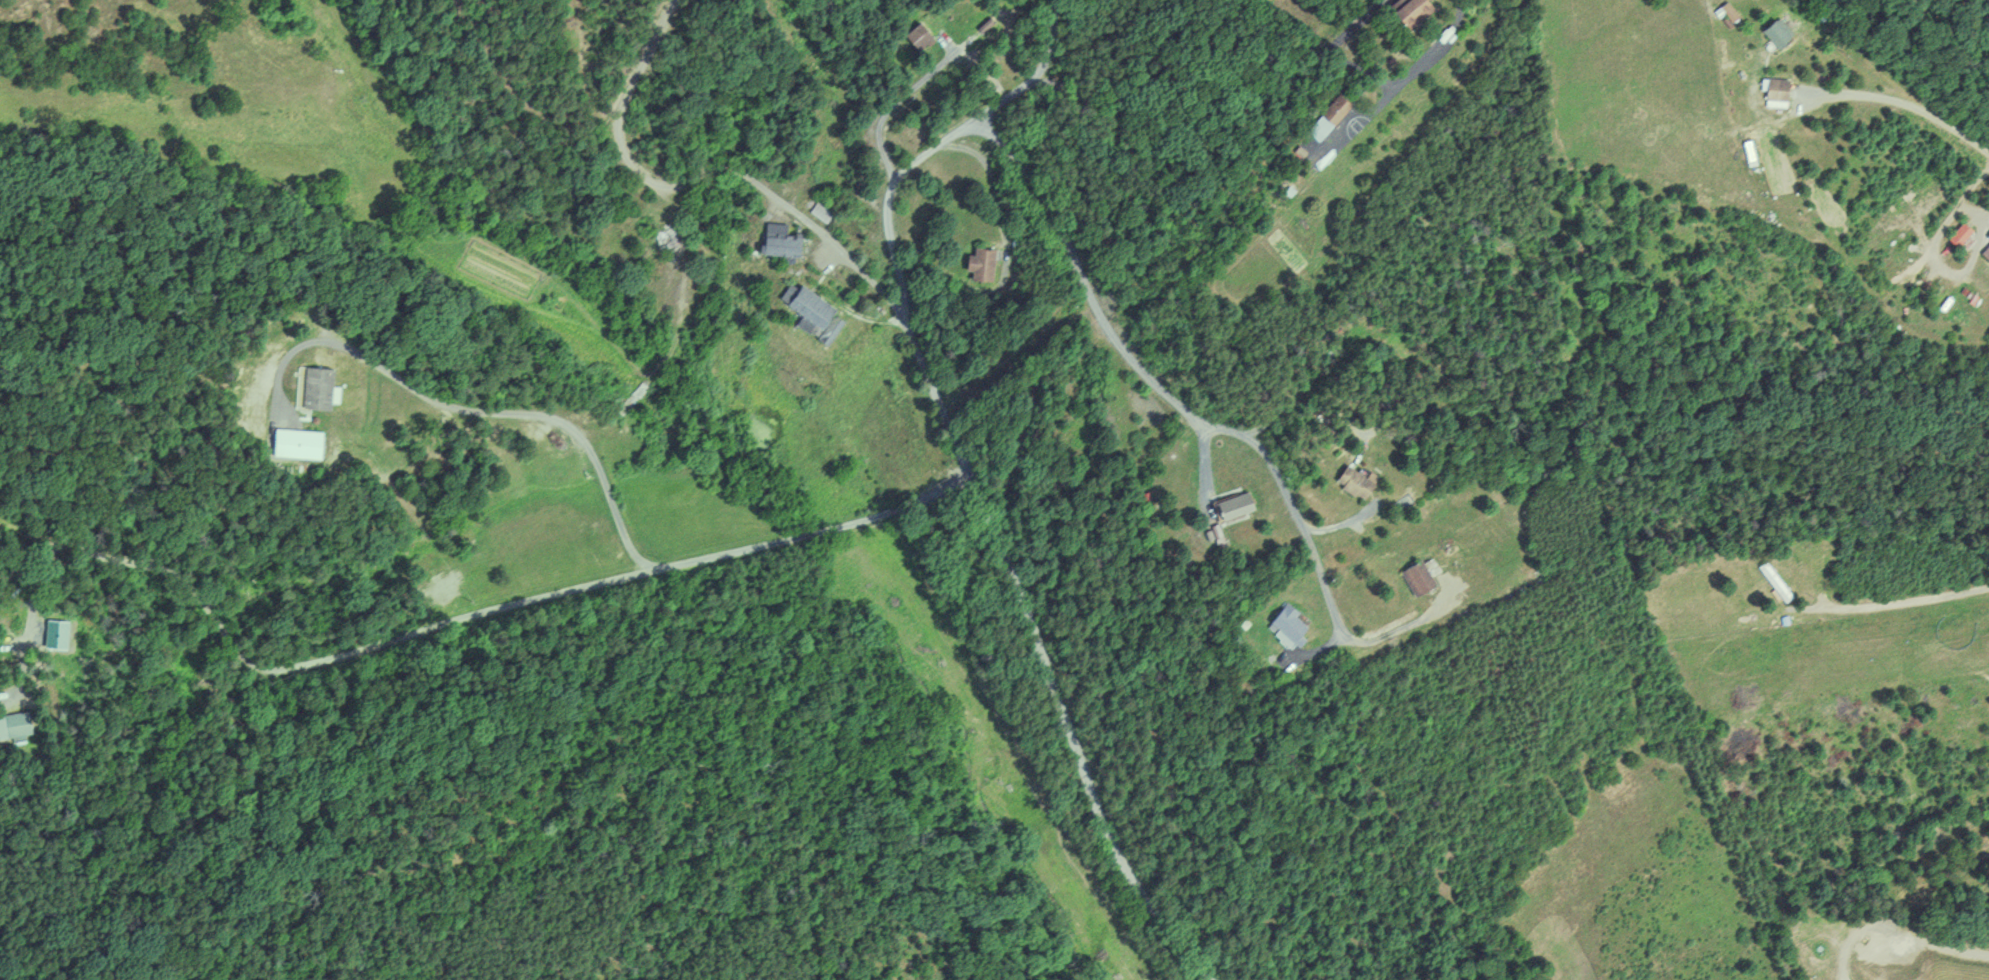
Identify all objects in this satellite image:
building: (1417, 11)
road: (1347, 29)
building: (1782, 34)
building: (921, 35)
road: (1028, 77)
road: (1403, 77)
road: (918, 81)
building: (1784, 89)
road: (1908, 103)
building: (1331, 115)
road: (1169, 118)
road: (1355, 124)
road: (701, 173)
building: (1964, 233)
building: (672, 237)
road: (891, 242)
building: (785, 244)
building: (982, 264)
building: (812, 306)
building: (320, 386)
building: (633, 399)
road: (470, 410)
building: (301, 442)
road: (1202, 466)
building: (1358, 482)
building: (1238, 507)
building: (1420, 577)
building: (1777, 581)
road: (1899, 600)
road: (506, 602)
building: (1295, 623)
road: (1404, 625)
road: (1313, 649)
building: (15, 725)

